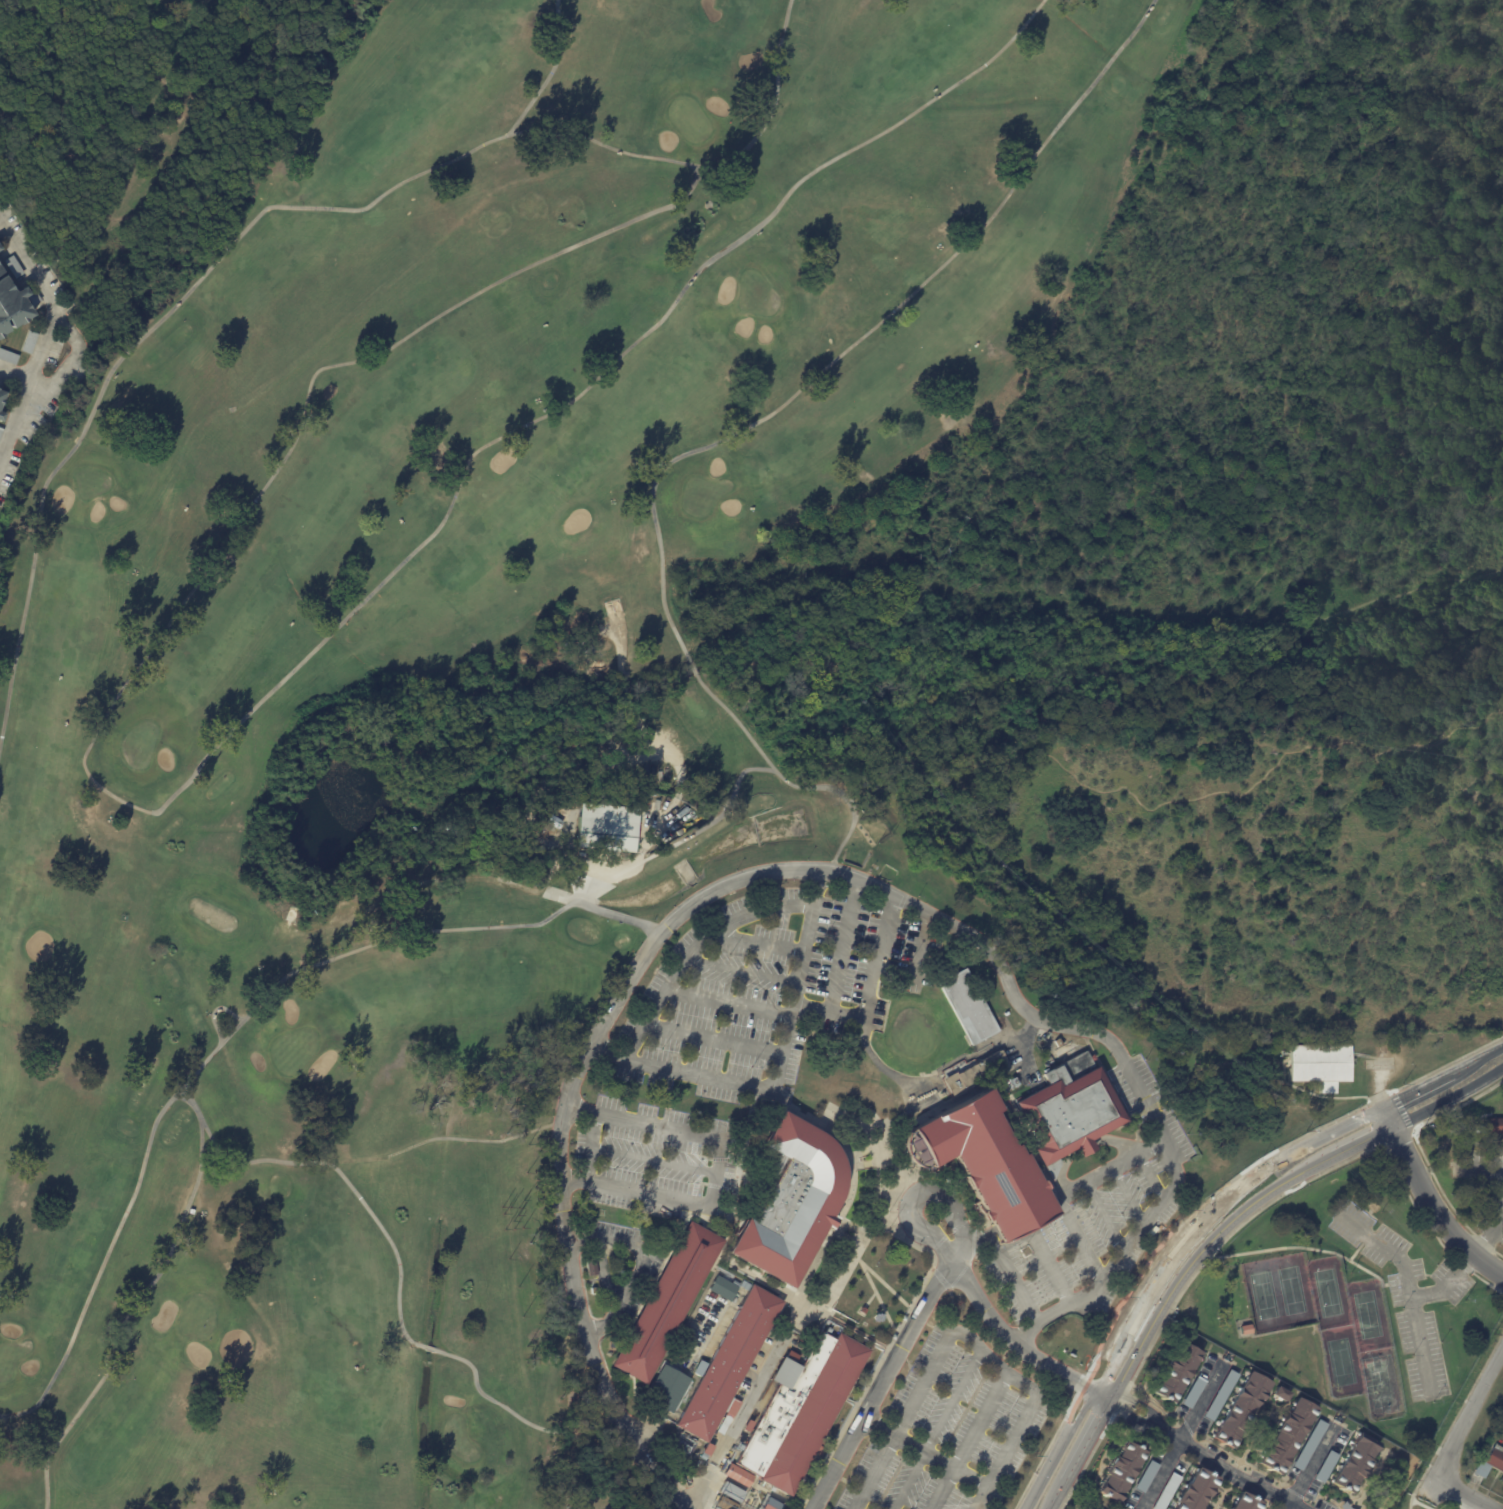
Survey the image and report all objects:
road: (258, 4)
road: (546, 78)
park: (688, 119)
park: (138, 127)
road: (154, 138)
road: (699, 167)
building: (12, 266)
building: (1, 271)
building: (34, 299)
building: (12, 306)
road: (69, 331)
building: (28, 342)
road: (135, 342)
building: (7, 357)
road: (14, 372)
road: (27, 382)
building: (1, 397)
building: (1, 417)
road: (745, 427)
building: (1, 432)
park: (1219, 563)
park: (465, 675)
road: (231, 729)
park: (138, 744)
building: (605, 827)
building: (451, 830)
road: (682, 839)
road: (785, 872)
road: (396, 937)
road: (760, 941)
road: (694, 950)
parking lot: (860, 956)
road: (838, 963)
road: (741, 972)
road: (873, 974)
road: (728, 1003)
parking lot: (722, 1007)
building: (967, 1007)
road: (214, 1011)
road: (713, 1039)
building: (1063, 1048)
park: (292, 1050)
road: (1479, 1058)
building: (1318, 1065)
road: (778, 1072)
building: (975, 1072)
road: (1420, 1088)
road: (1449, 1098)
building: (1067, 1115)
road: (1389, 1117)
building: (1493, 1125)
road: (200, 1127)
building: (1478, 1128)
road: (447, 1140)
road: (1116, 1142)
road: (1363, 1143)
road: (590, 1148)
road: (1084, 1148)
parking lot: (660, 1157)
road: (653, 1160)
road: (253, 1161)
building: (986, 1163)
road: (1477, 1166)
parking lot: (1480, 1167)
road: (715, 1172)
road: (1060, 1172)
road: (1151, 1178)
parking lot: (1133, 1188)
road: (1071, 1192)
road: (921, 1194)
road: (1225, 1196)
road: (1128, 1198)
road: (1054, 1201)
building: (791, 1202)
road: (1435, 1211)
road: (1106, 1219)
parking lot: (1494, 1219)
road: (1023, 1220)
road: (993, 1237)
road: (1489, 1238)
road: (1358, 1248)
road: (1197, 1255)
road: (643, 1264)
road: (1357, 1264)
parking lot: (1040, 1265)
building: (589, 1267)
road: (1006, 1268)
road: (1053, 1270)
road: (601, 1273)
road: (1395, 1283)
road: (1447, 1284)
building: (721, 1288)
road: (1409, 1288)
park: (1291, 1290)
parking lot: (634, 1291)
parking lot: (1405, 1291)
park: (1327, 1292)
park: (1263, 1296)
building: (666, 1302)
road: (924, 1304)
park: (1366, 1314)
park: (196, 1316)
building: (1244, 1330)
road: (1012, 1339)
park: (11, 1356)
road: (456, 1357)
park: (1340, 1362)
building: (727, 1363)
road: (1105, 1365)
building: (698, 1368)
building: (1175, 1372)
park: (1380, 1384)
building: (666, 1388)
building: (1191, 1392)
building: (1282, 1393)
road: (1102, 1394)
building: (1219, 1395)
road: (953, 1399)
road: (912, 1404)
parking lot: (975, 1406)
road: (1198, 1407)
building: (1239, 1409)
building: (799, 1410)
road: (1029, 1415)
road: (983, 1416)
road: (1137, 1416)
road: (1463, 1423)
road: (857, 1428)
road: (893, 1435)
building: (1286, 1435)
park: (458, 1438)
road: (1089, 1441)
building: (1308, 1445)
road: (1059, 1449)
building: (705, 1451)
road: (939, 1459)
building: (1491, 1461)
building: (1353, 1462)
building: (1324, 1466)
road: (1224, 1469)
building: (1119, 1470)
road: (1307, 1470)
building: (737, 1475)
building: (1145, 1476)
road: (1159, 1476)
road: (970, 1477)
road: (909, 1480)
parking lot: (902, 1484)
road: (1416, 1485)
road: (941, 1488)
building: (1195, 1490)
building: (1165, 1491)
building: (731, 1492)
road: (1463, 1493)
road: (1058, 1496)
building: (1244, 1502)
building: (771, 1503)
road: (1286, 1506)
road: (1293, 1506)
building: (1342, 1506)

